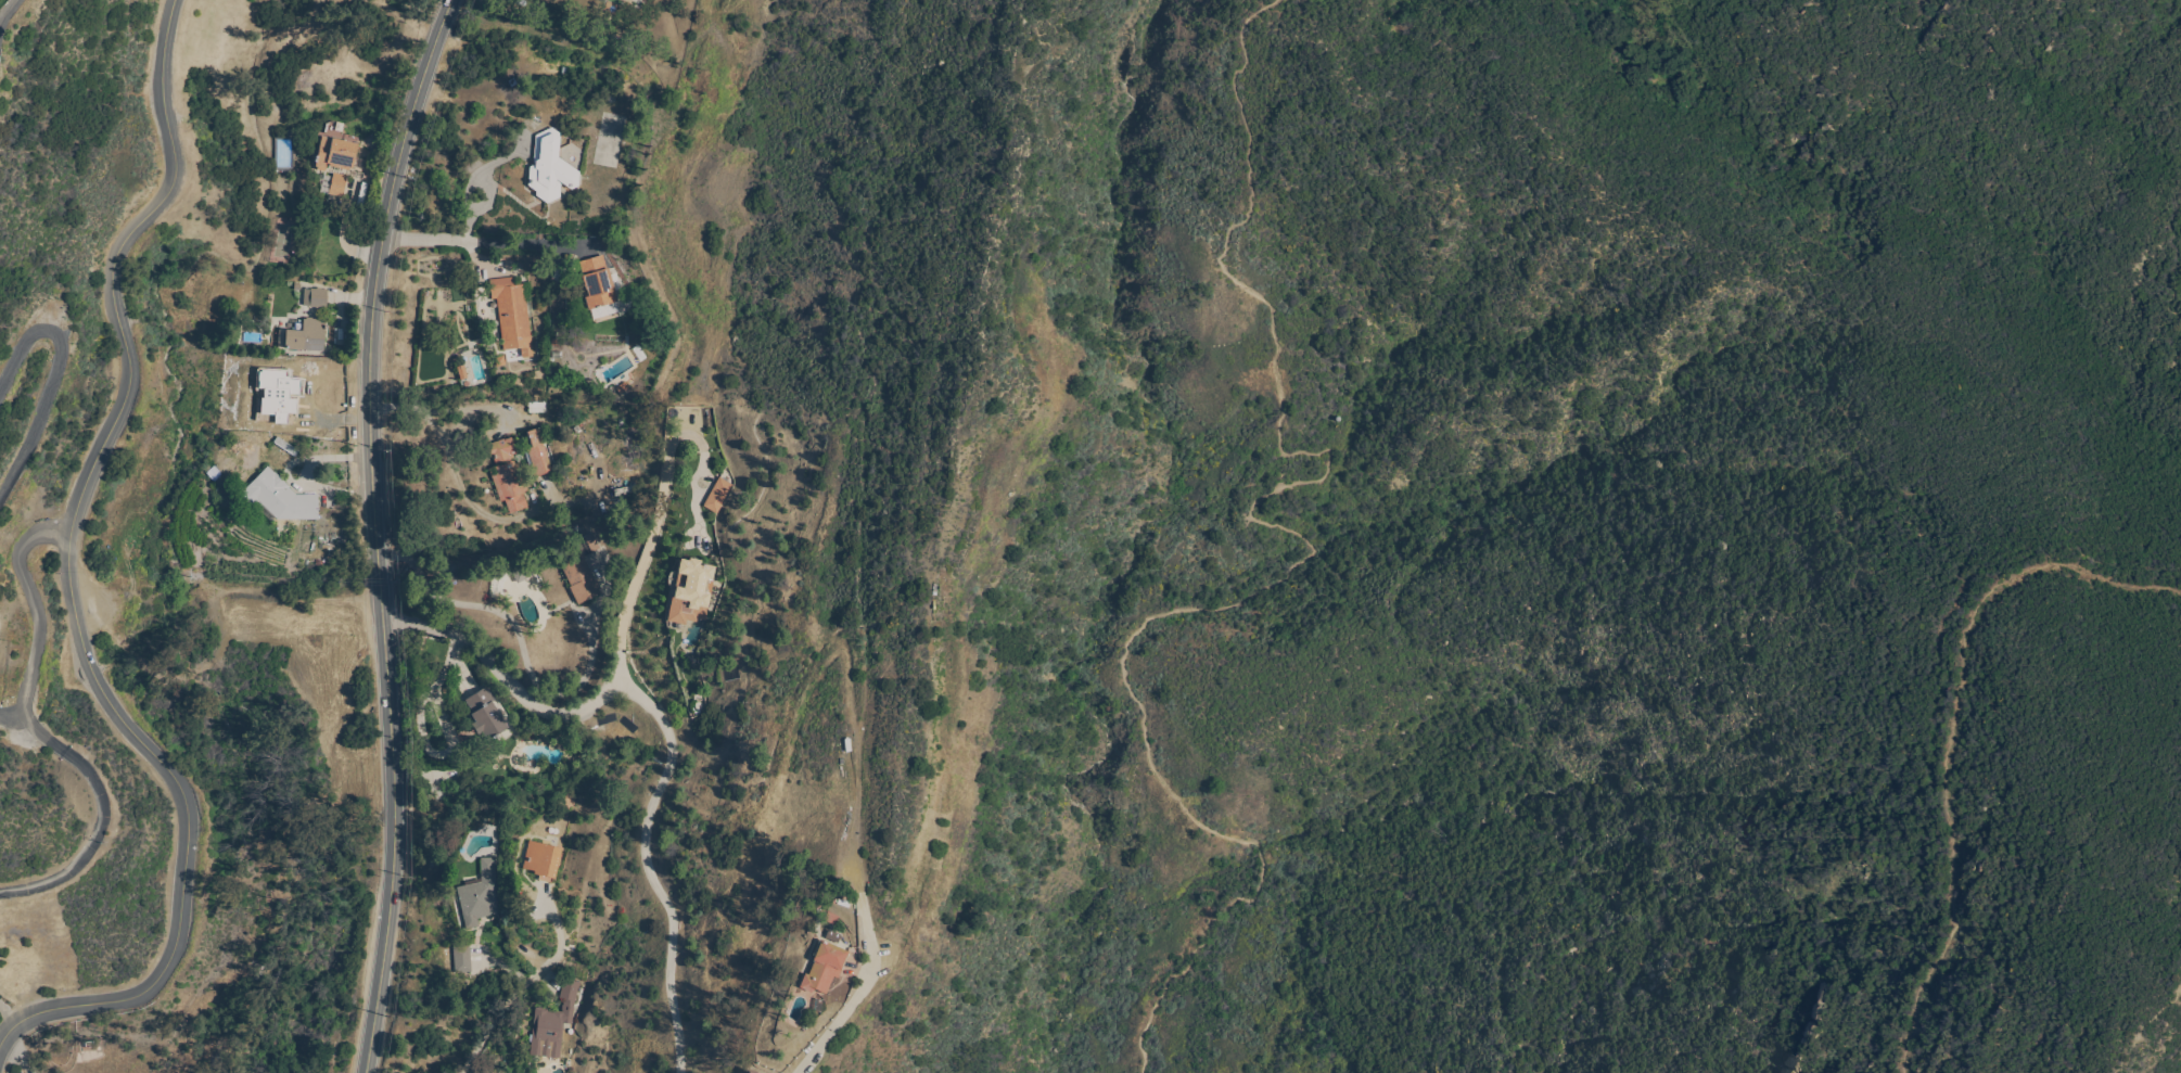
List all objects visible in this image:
road: (7, 8)
building: (336, 155)
building: (549, 168)
building: (323, 182)
building: (337, 184)
road: (474, 243)
building: (598, 288)
building: (315, 297)
road: (372, 299)
building: (510, 309)
building: (306, 336)
road: (58, 378)
building: (537, 408)
road: (432, 416)
building: (537, 454)
building: (507, 475)
building: (717, 496)
building: (280, 498)
building: (587, 545)
road: (1306, 558)
building: (519, 572)
building: (579, 579)
road: (74, 585)
building: (690, 591)
road: (409, 618)
road: (38, 630)
road: (605, 699)
building: (485, 714)
road: (11, 717)
road: (1950, 735)
road: (394, 842)
road: (95, 845)
building: (541, 859)
road: (650, 865)
building: (479, 895)
building: (830, 937)
building: (461, 959)
building: (824, 967)
building: (576, 970)
road: (865, 993)
road: (518, 998)
road: (2160, 1011)
road: (10, 1014)
building: (552, 1023)
road: (481, 1049)
road: (26, 1051)
building: (747, 1072)

